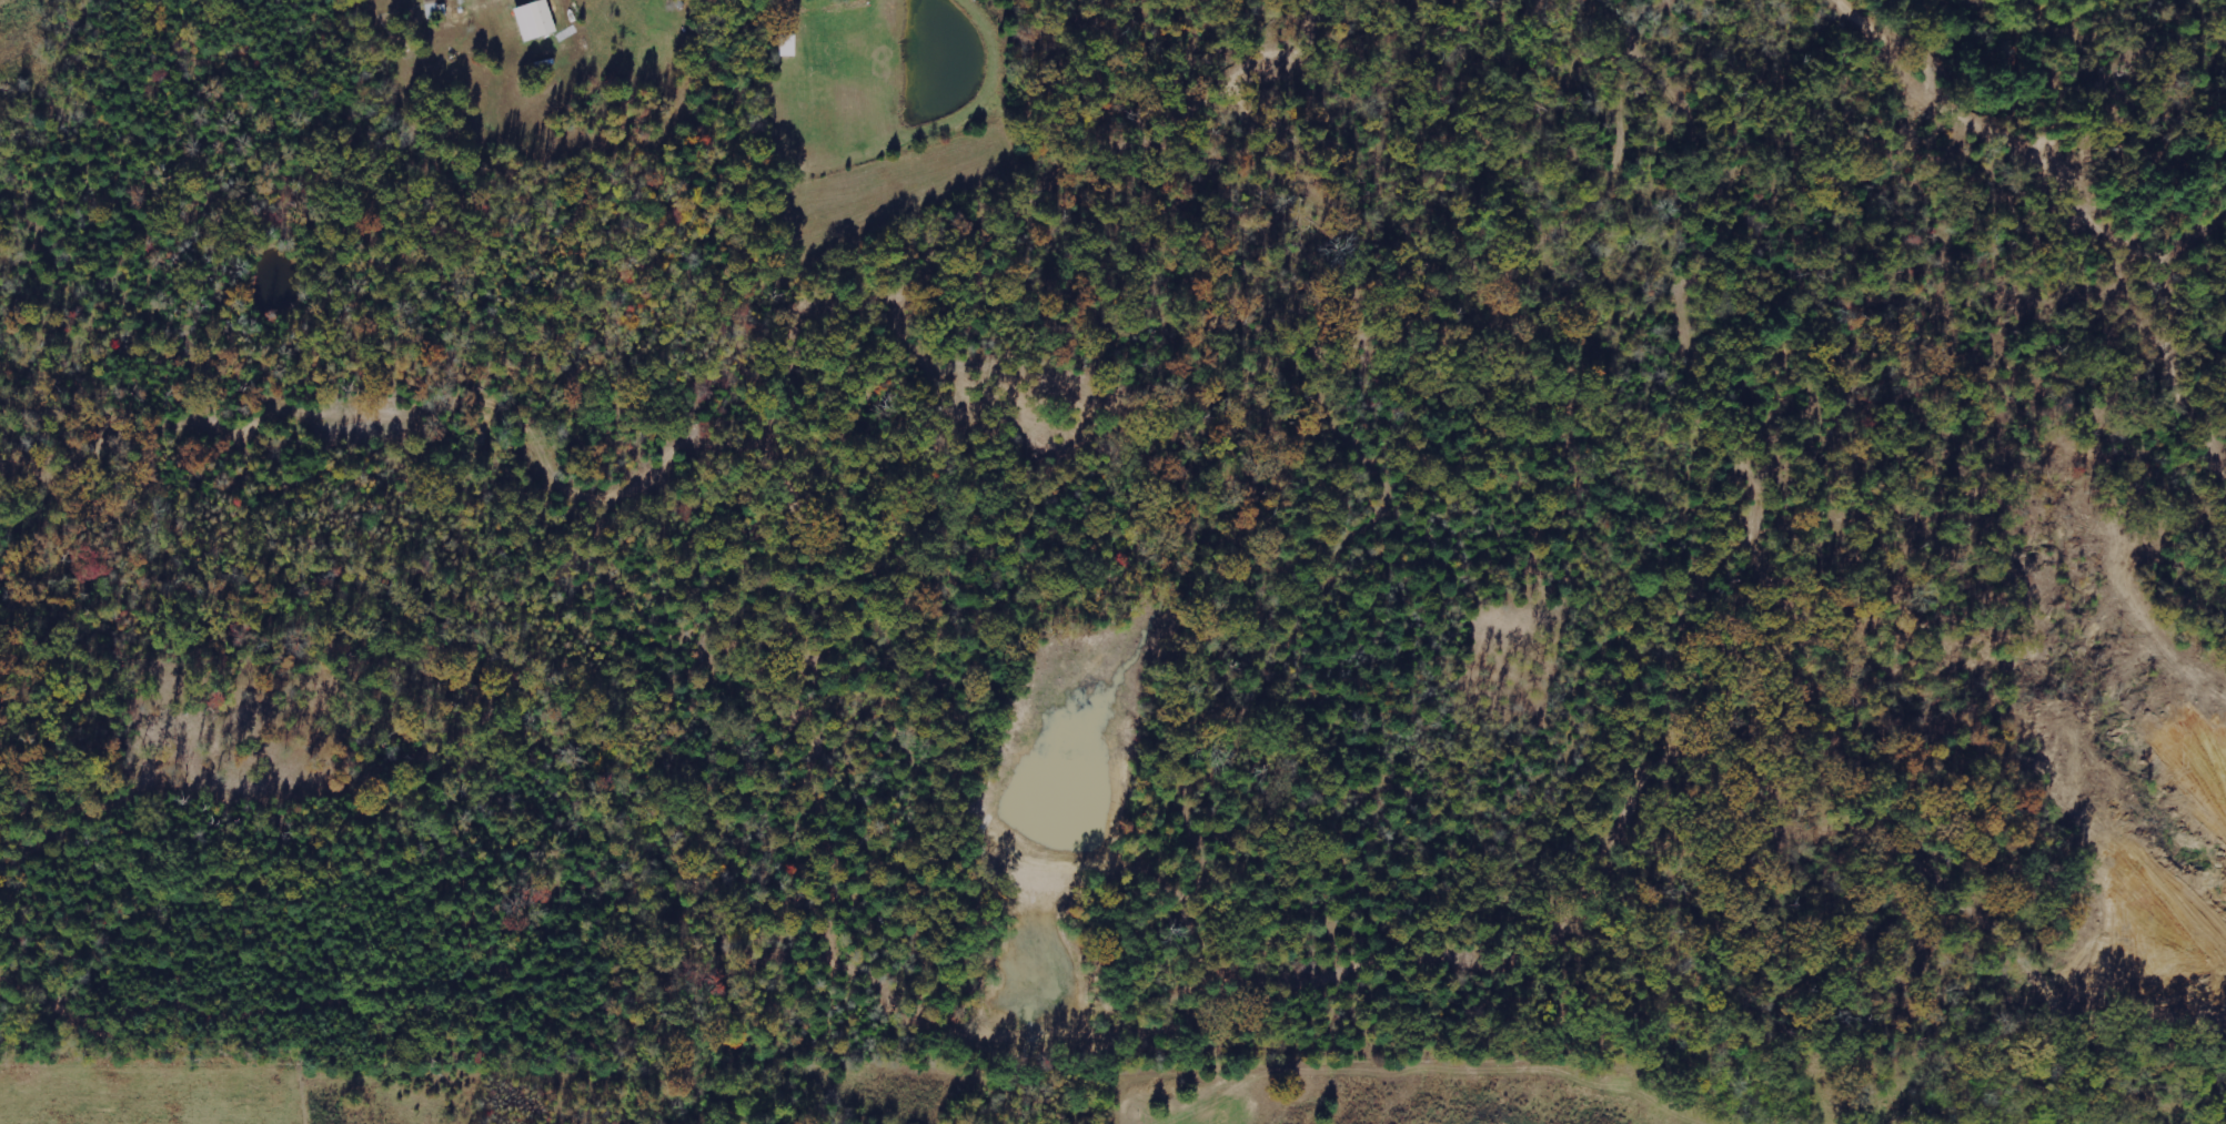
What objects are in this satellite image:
building: (531, 19)

